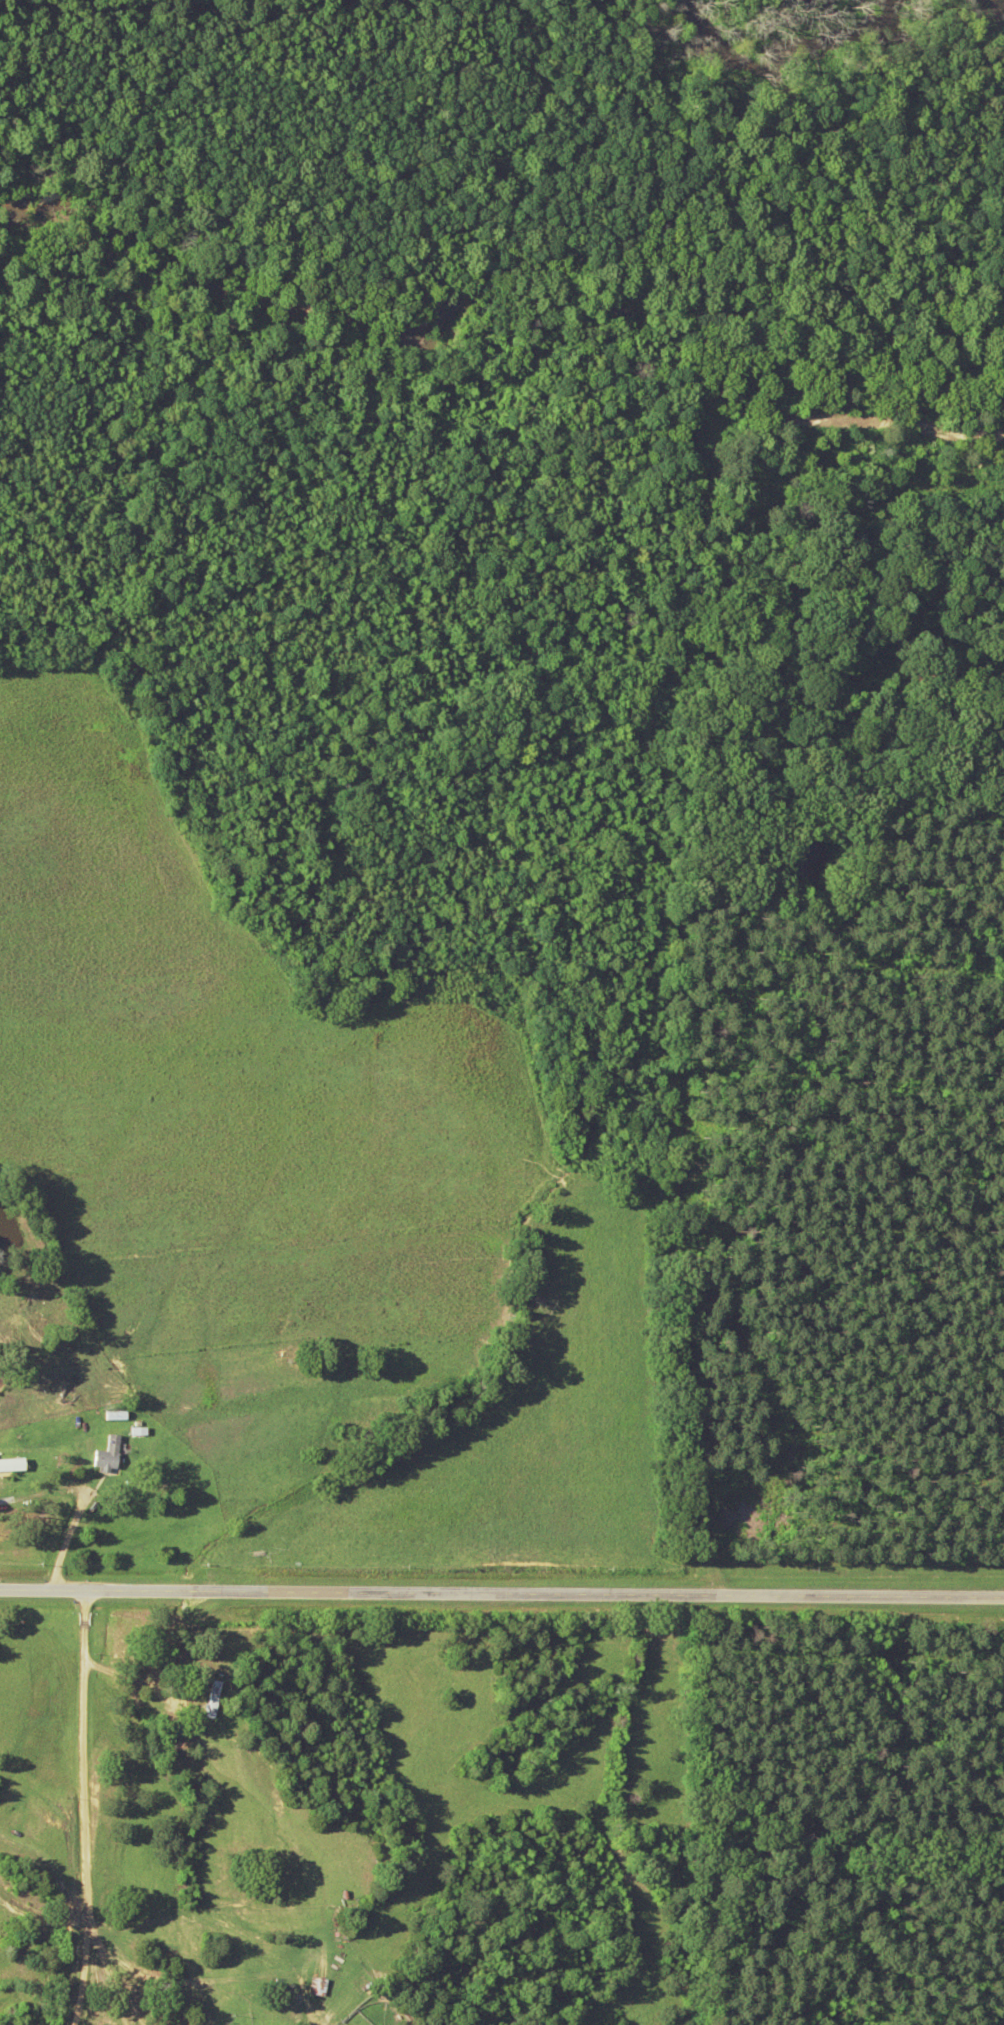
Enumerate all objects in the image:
building: (112, 1453)
building: (10, 1465)
road: (502, 1554)
building: (217, 1698)
road: (111, 1789)
building: (323, 1984)

